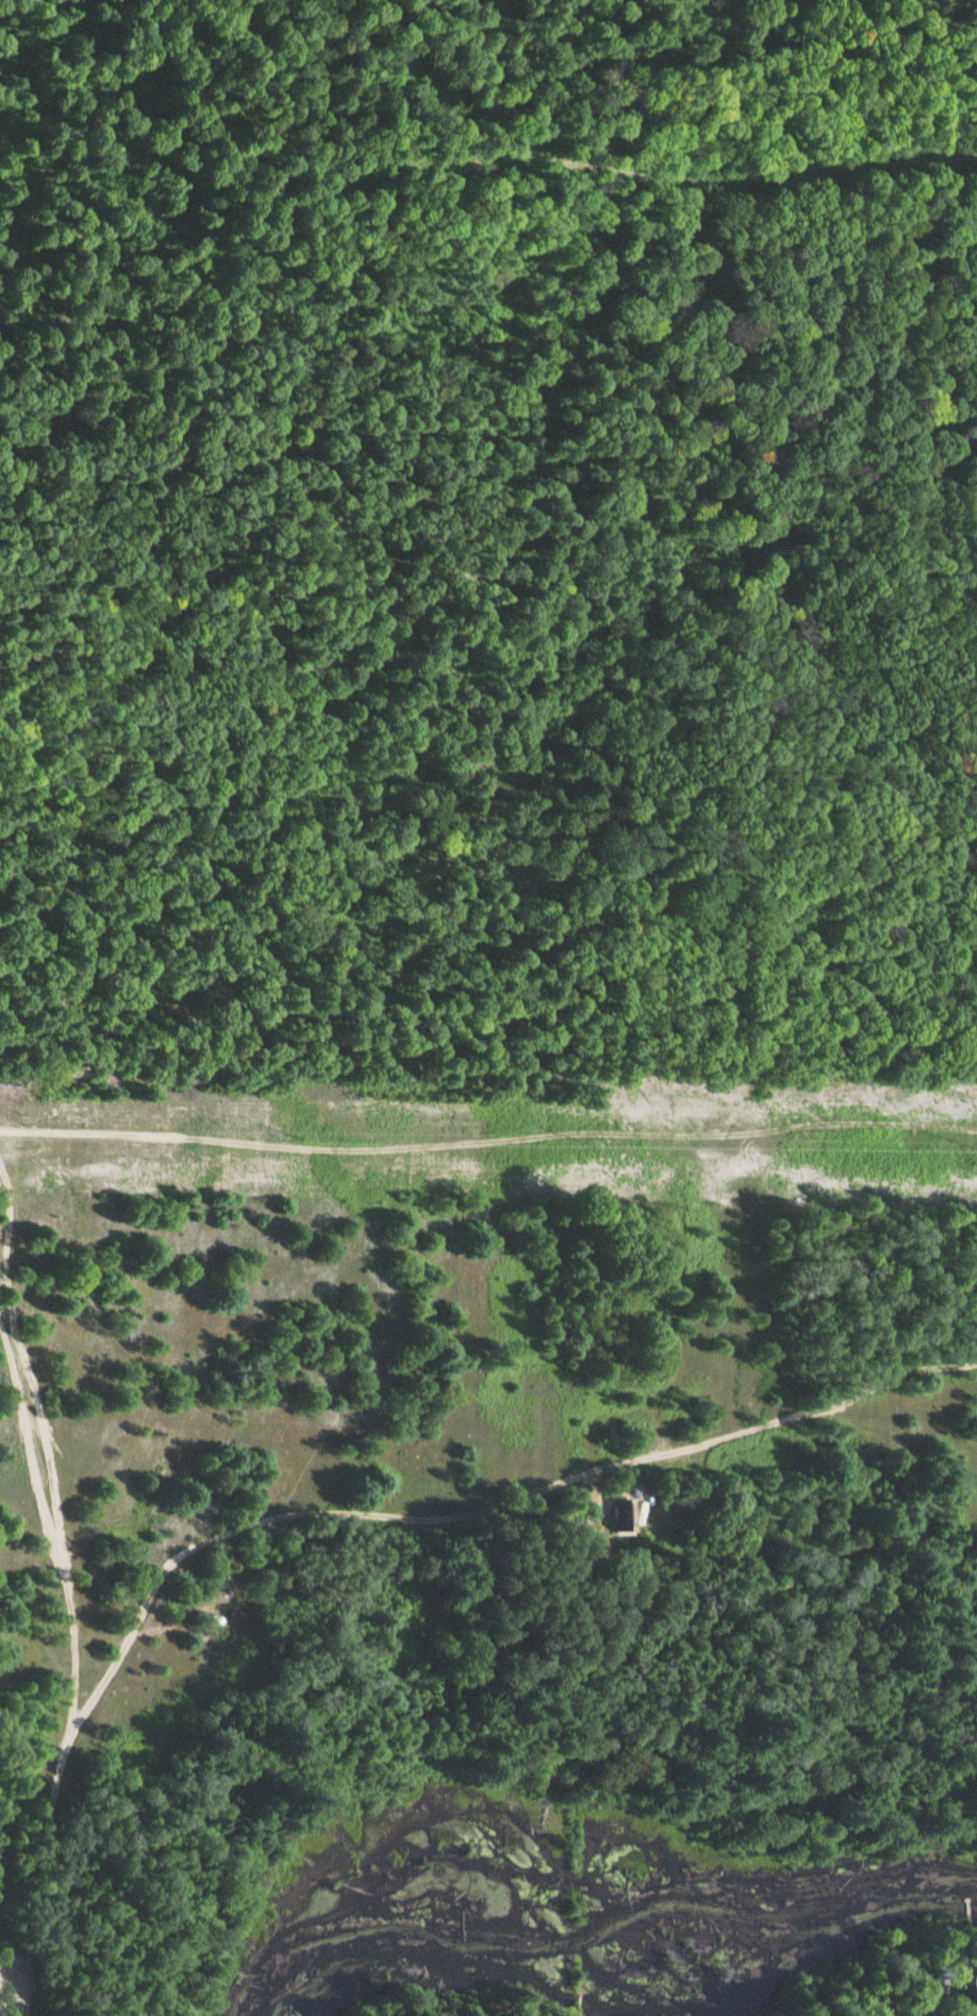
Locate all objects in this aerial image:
road: (691, 1446)
road: (112, 1668)
river: (610, 1947)
building: (964, 1977)

